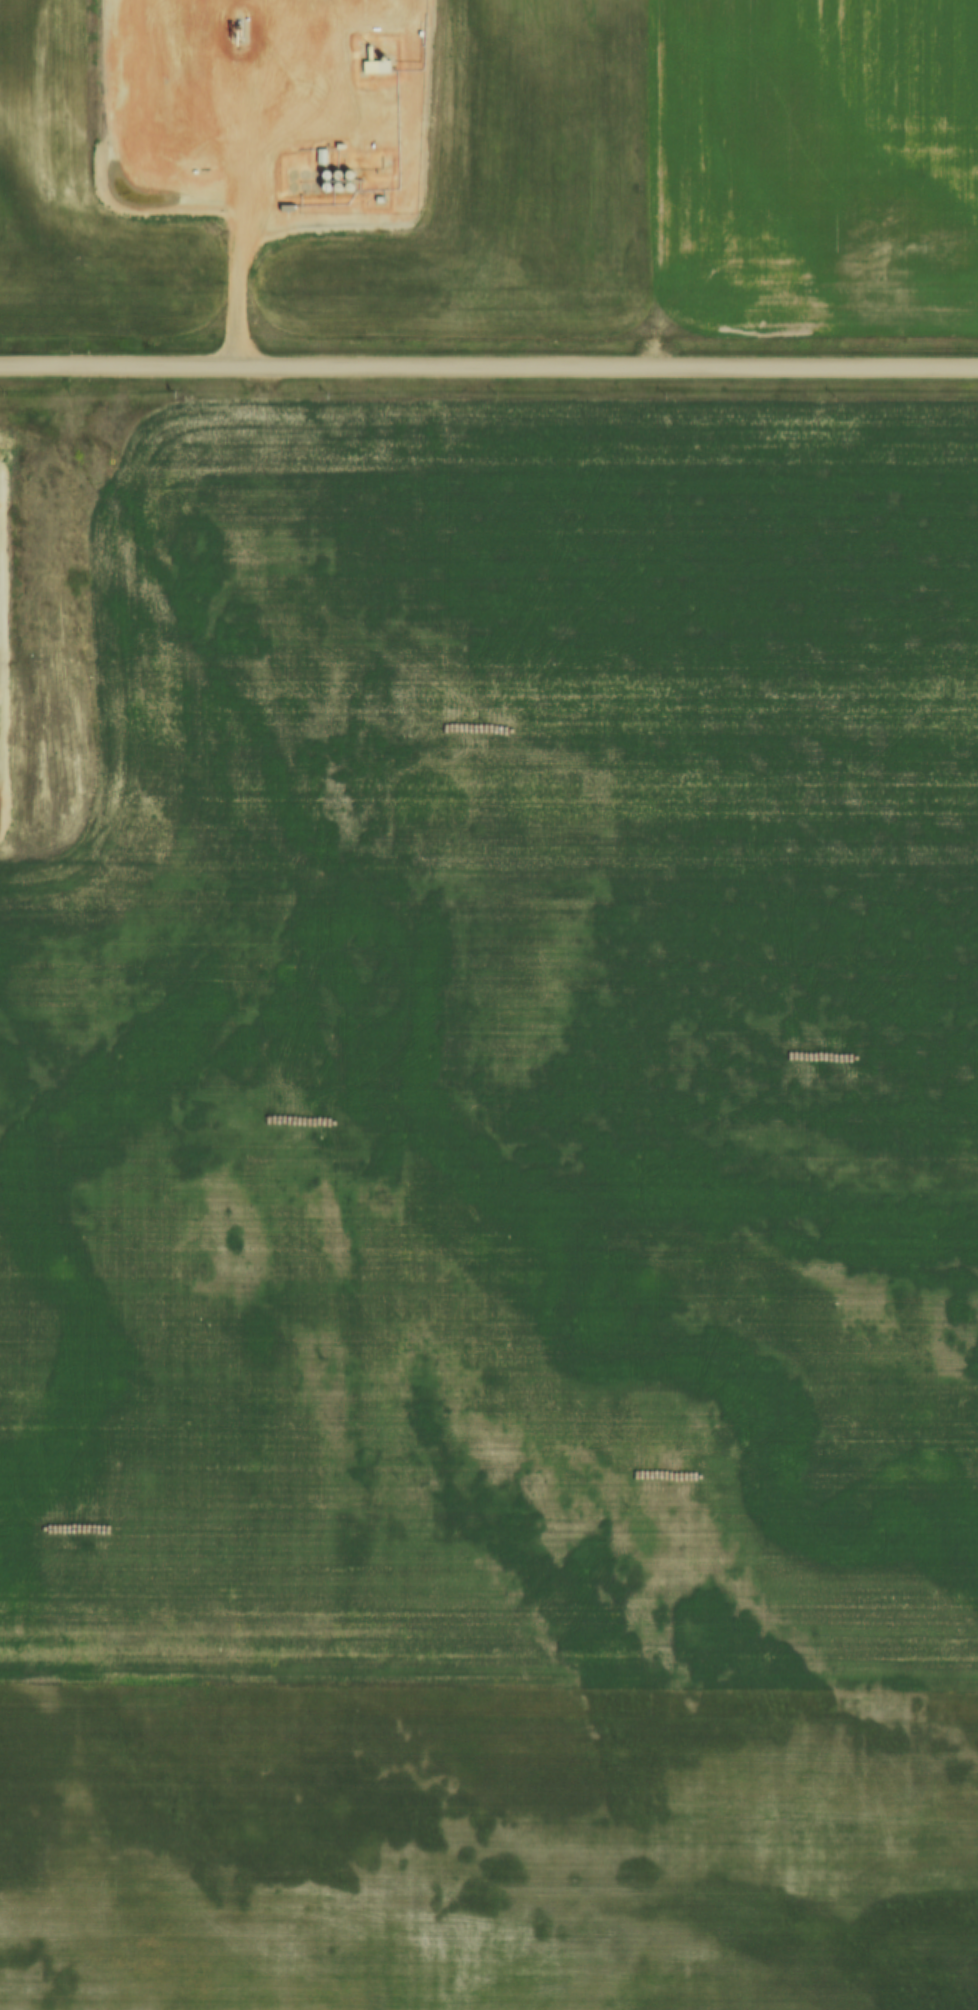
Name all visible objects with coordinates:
building: (291, 28)
building: (370, 118)
building: (283, 179)
road: (488, 368)

